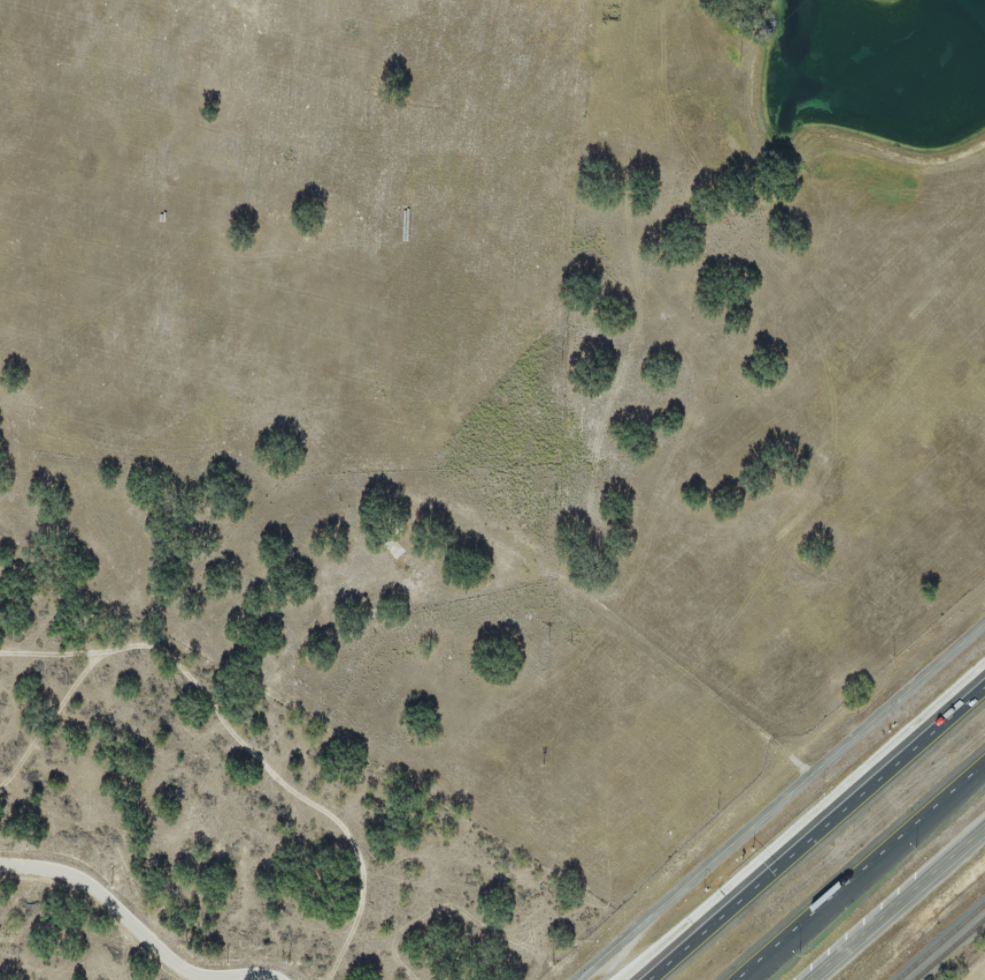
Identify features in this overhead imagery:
road: (635, 292)
road: (661, 651)
road: (245, 746)
road: (782, 802)
road: (932, 809)
road: (817, 833)
road: (896, 903)
road: (808, 917)
railway: (940, 941)
railway: (949, 948)

